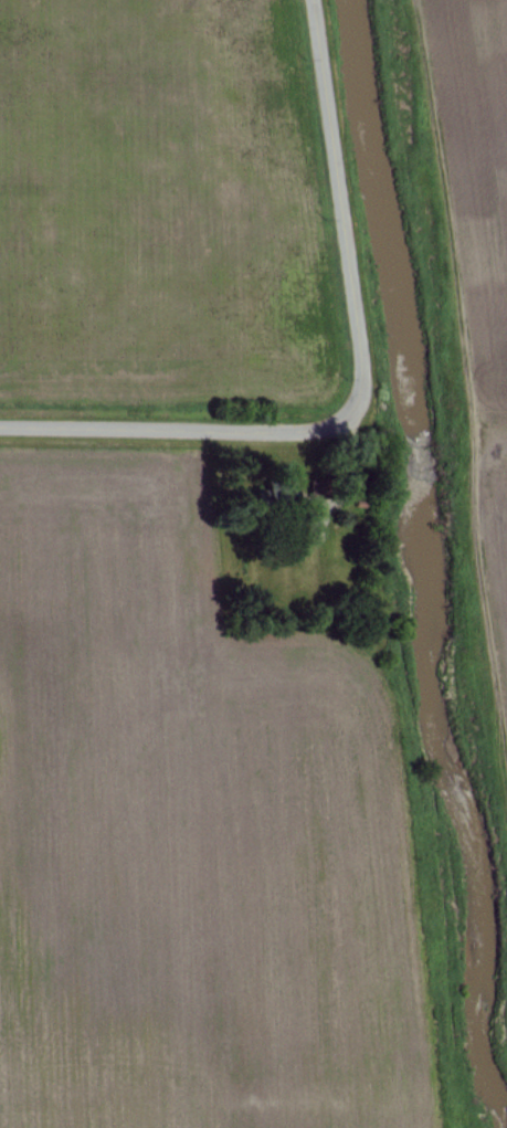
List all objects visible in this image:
road: (348, 209)
road: (173, 409)

